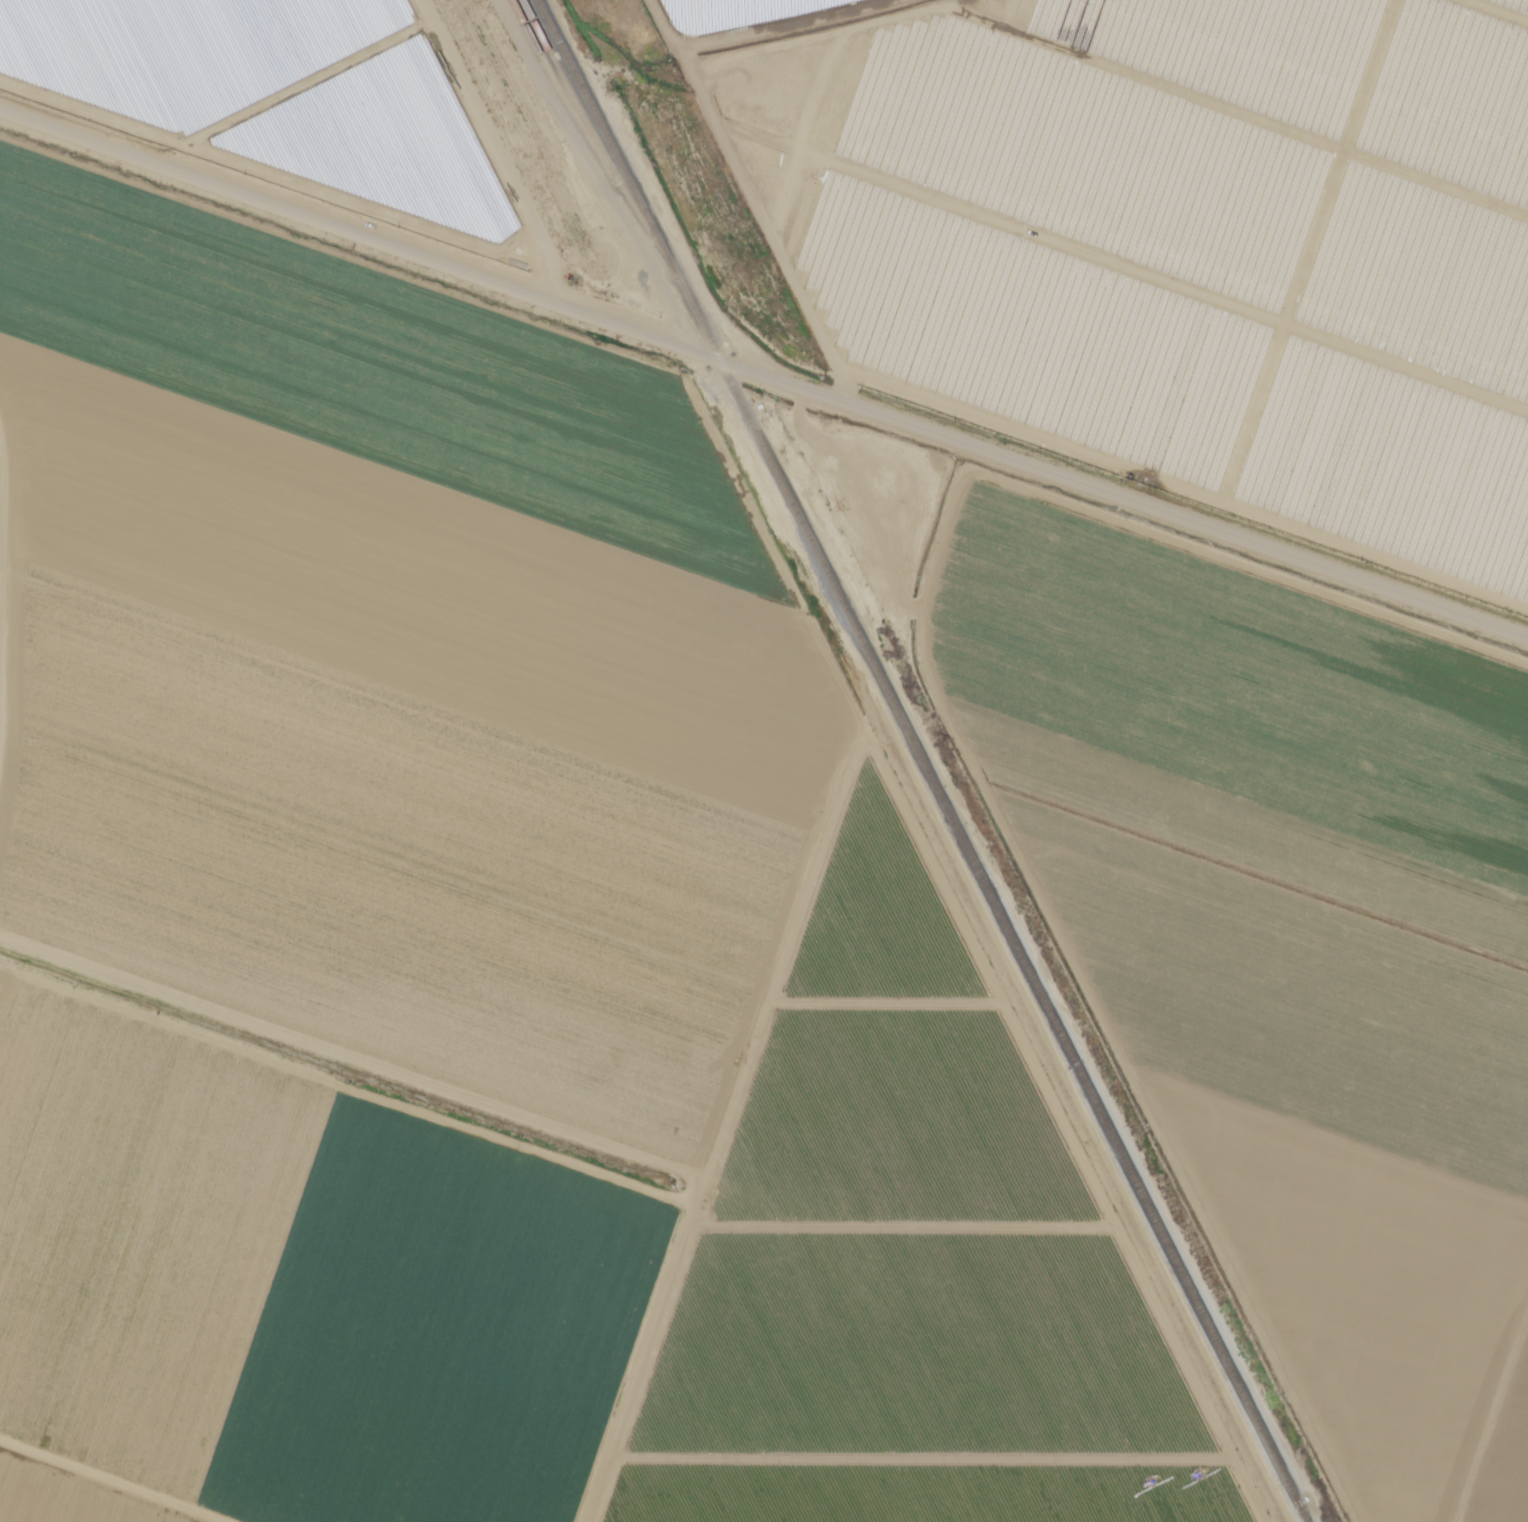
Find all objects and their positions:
crop: (693, 17)
crop: (366, 18)
crop: (469, 31)
road: (307, 81)
crop: (279, 103)
road: (489, 133)
railway: (606, 136)
railway: (590, 138)
crop: (541, 173)
road: (275, 174)
crop: (1163, 241)
road: (563, 292)
road: (763, 378)
crop: (390, 666)
crop: (1238, 702)
railway: (991, 897)
crop: (1288, 982)
crop: (916, 1251)
crop: (1360, 1271)
crop: (300, 1286)
crop: (1510, 1418)
crop: (1390, 1477)
crop: (67, 1496)
crop: (1493, 1502)

